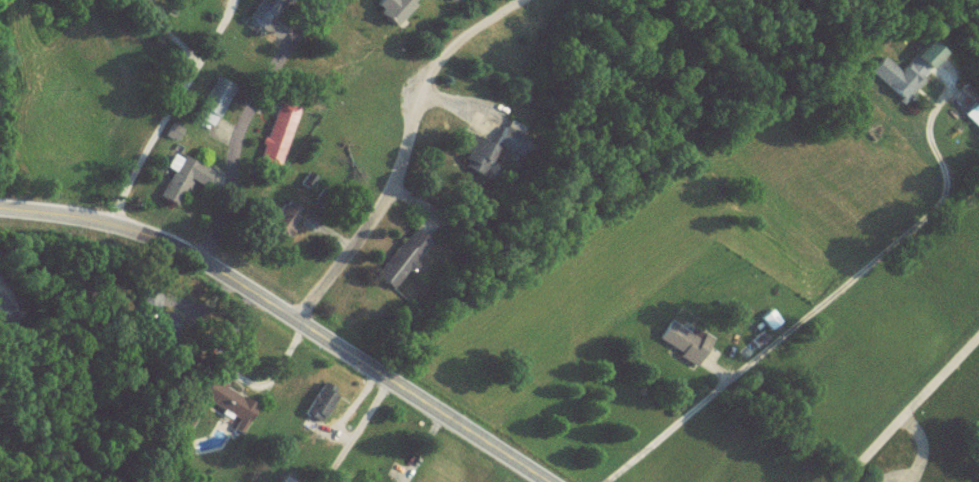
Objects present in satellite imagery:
building: (451, 3)
building: (387, 14)
building: (262, 17)
road: (160, 32)
road: (218, 34)
building: (904, 77)
building: (212, 108)
building: (972, 120)
road: (239, 122)
building: (276, 139)
building: (508, 142)
road: (154, 148)
road: (402, 152)
building: (476, 159)
building: (185, 175)
building: (283, 225)
building: (401, 265)
road: (821, 304)
road: (286, 316)
building: (682, 346)
road: (912, 412)

